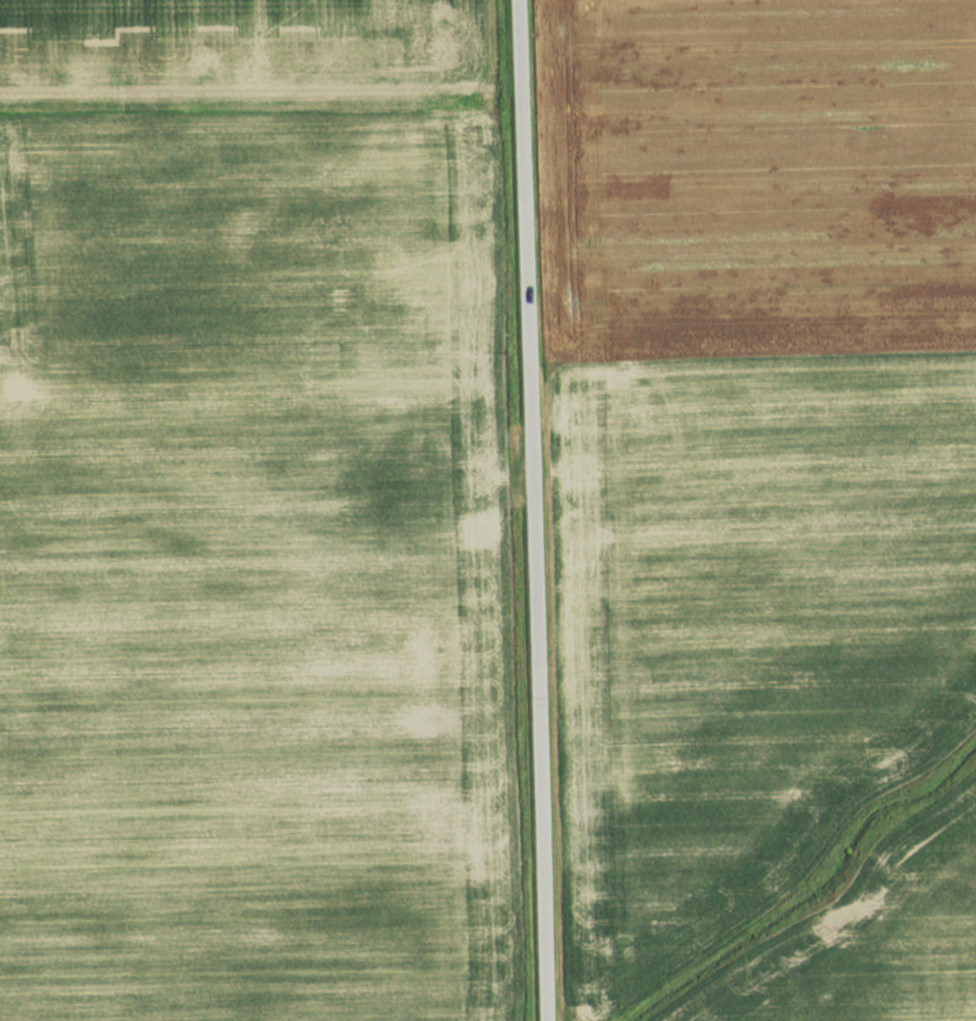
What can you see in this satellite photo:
crop: (746, 447)
road: (524, 510)
crop: (242, 514)
crop: (875, 939)

